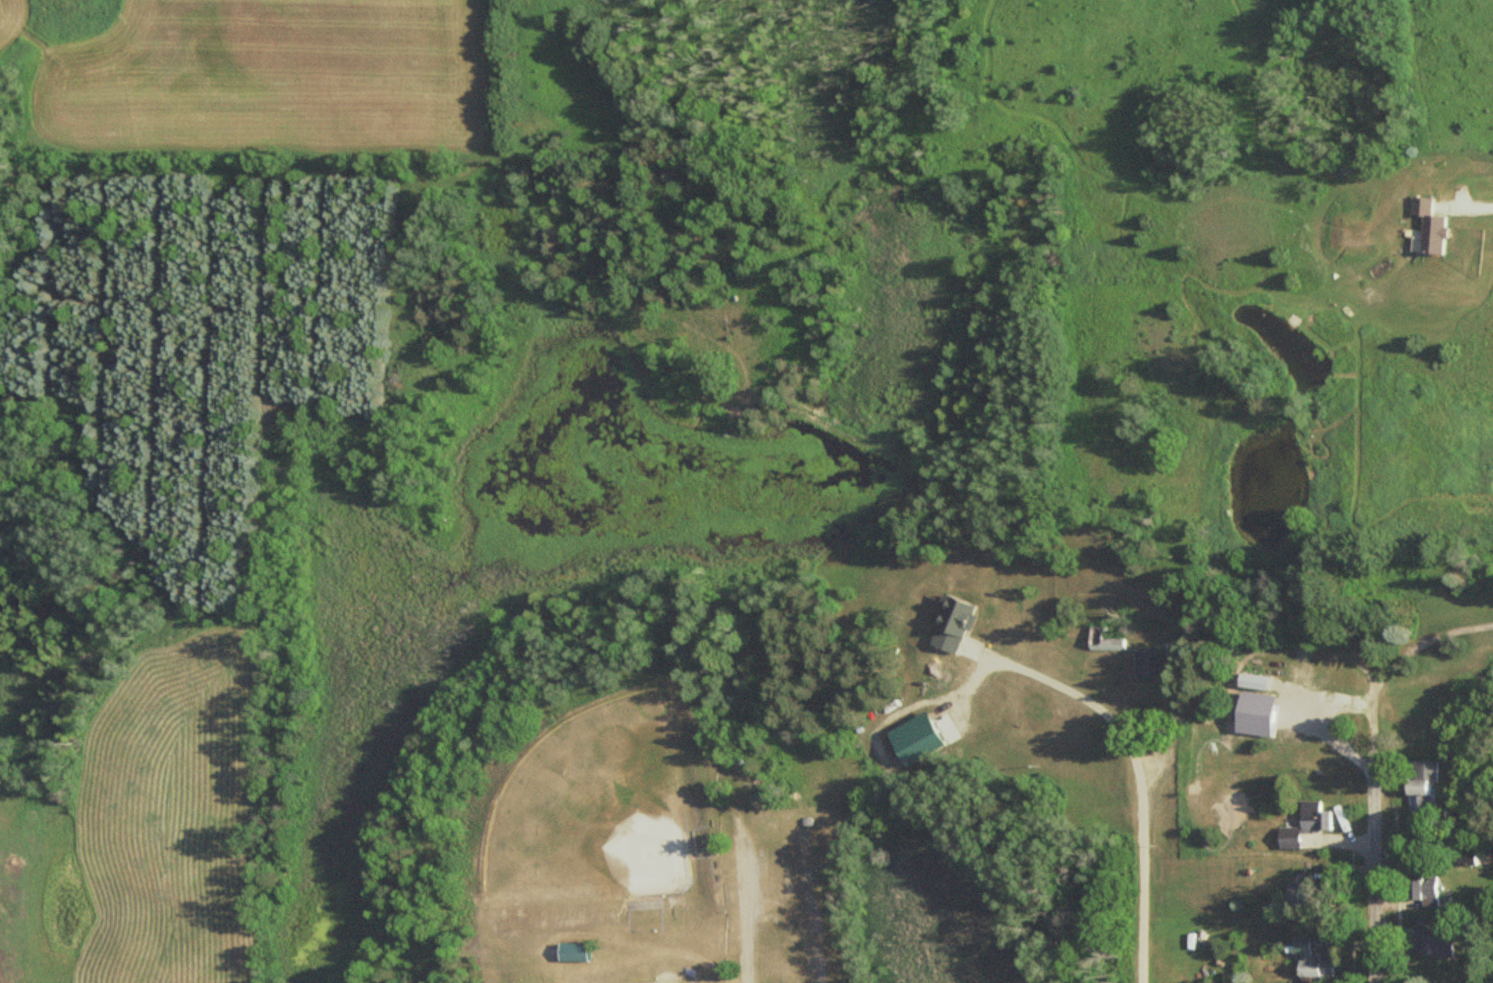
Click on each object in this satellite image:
building: (958, 624)
building: (1101, 640)
building: (1143, 662)
building: (1420, 782)
park: (593, 790)
park: (597, 808)
building: (1312, 815)
road: (1373, 834)
road: (1141, 857)
building: (1420, 888)
road: (748, 911)
building: (1431, 941)
building: (584, 952)
building: (1307, 958)
park: (601, 979)

